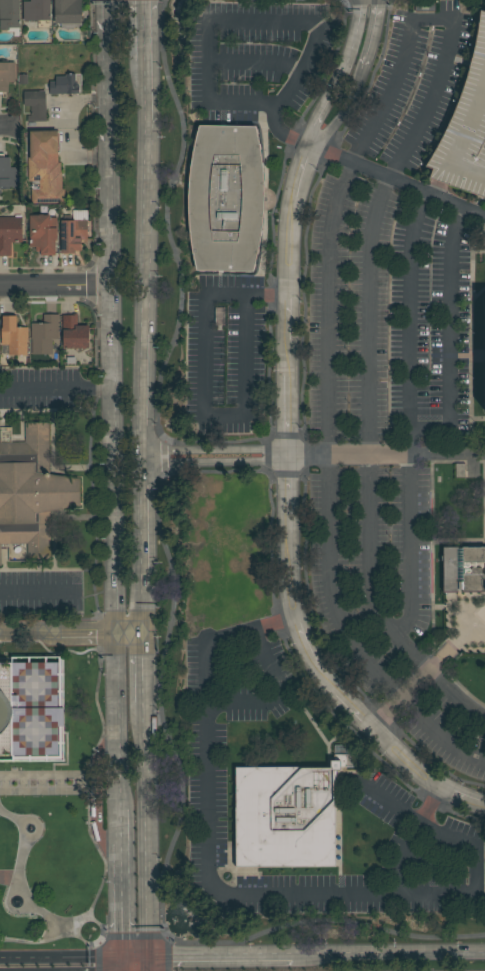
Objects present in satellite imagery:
building: (424, 6)
building: (67, 11)
building: (38, 12)
building: (9, 14)
road: (441, 19)
road: (143, 30)
road: (373, 36)
road: (208, 43)
road: (350, 49)
road: (255, 60)
building: (7, 75)
building: (65, 86)
building: (36, 106)
road: (342, 113)
road: (316, 119)
road: (5, 126)
building: (465, 130)
parking garage: (465, 130)
road: (328, 155)
building: (45, 168)
road: (302, 172)
building: (6, 174)
building: (225, 198)
building: (9, 233)
building: (74, 233)
building: (43, 234)
road: (289, 243)
road: (146, 260)
road: (55, 290)
road: (266, 293)
road: (110, 296)
road: (326, 307)
road: (367, 315)
building: (219, 316)
road: (287, 316)
road: (447, 316)
road: (412, 324)
building: (484, 332)
building: (74, 333)
building: (44, 334)
building: (13, 336)
road: (286, 360)
parking lot: (37, 389)
road: (56, 391)
road: (204, 416)
road: (285, 416)
road: (429, 426)
building: (5, 434)
road: (384, 454)
road: (216, 458)
building: (460, 471)
road: (286, 490)
building: (31, 492)
road: (146, 546)
road: (409, 556)
building: (464, 570)
road: (290, 571)
parking lot: (40, 590)
road: (34, 591)
road: (113, 612)
road: (370, 613)
road: (57, 631)
road: (130, 632)
road: (347, 637)
road: (304, 640)
road: (326, 677)
road: (272, 694)
building: (29, 709)
road: (352, 709)
road: (115, 720)
road: (402, 759)
road: (148, 795)
road: (463, 797)
road: (396, 803)
road: (95, 804)
building: (287, 814)
road: (119, 826)
building: (433, 863)
road: (248, 896)
road: (120, 900)
road: (61, 959)
traffic signals: (122, 959)
road: (136, 959)
traffic signals: (150, 959)
road: (195, 959)
road: (266, 959)
road: (388, 959)
road: (122, 965)
road: (149, 965)

